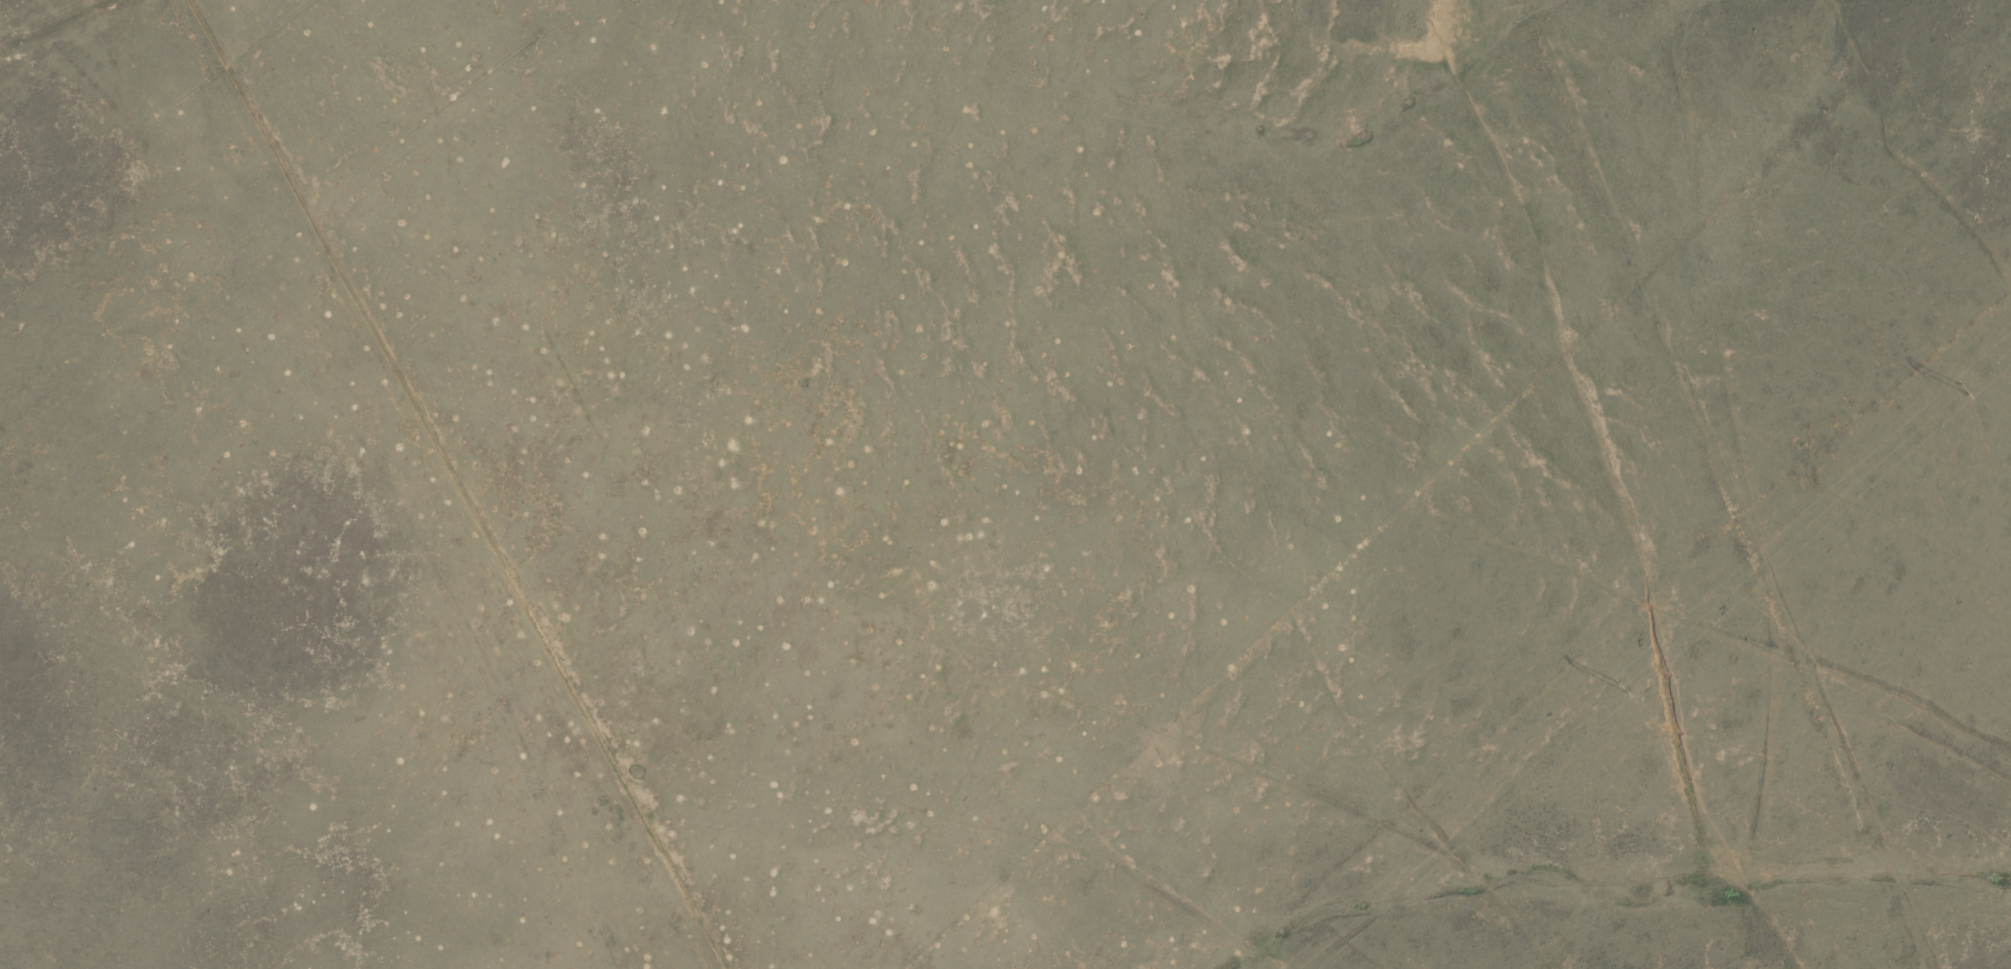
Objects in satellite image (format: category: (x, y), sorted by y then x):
road: (164, 131)
power tower: (1959, 387)
road: (351, 476)
power tower: (1620, 686)

